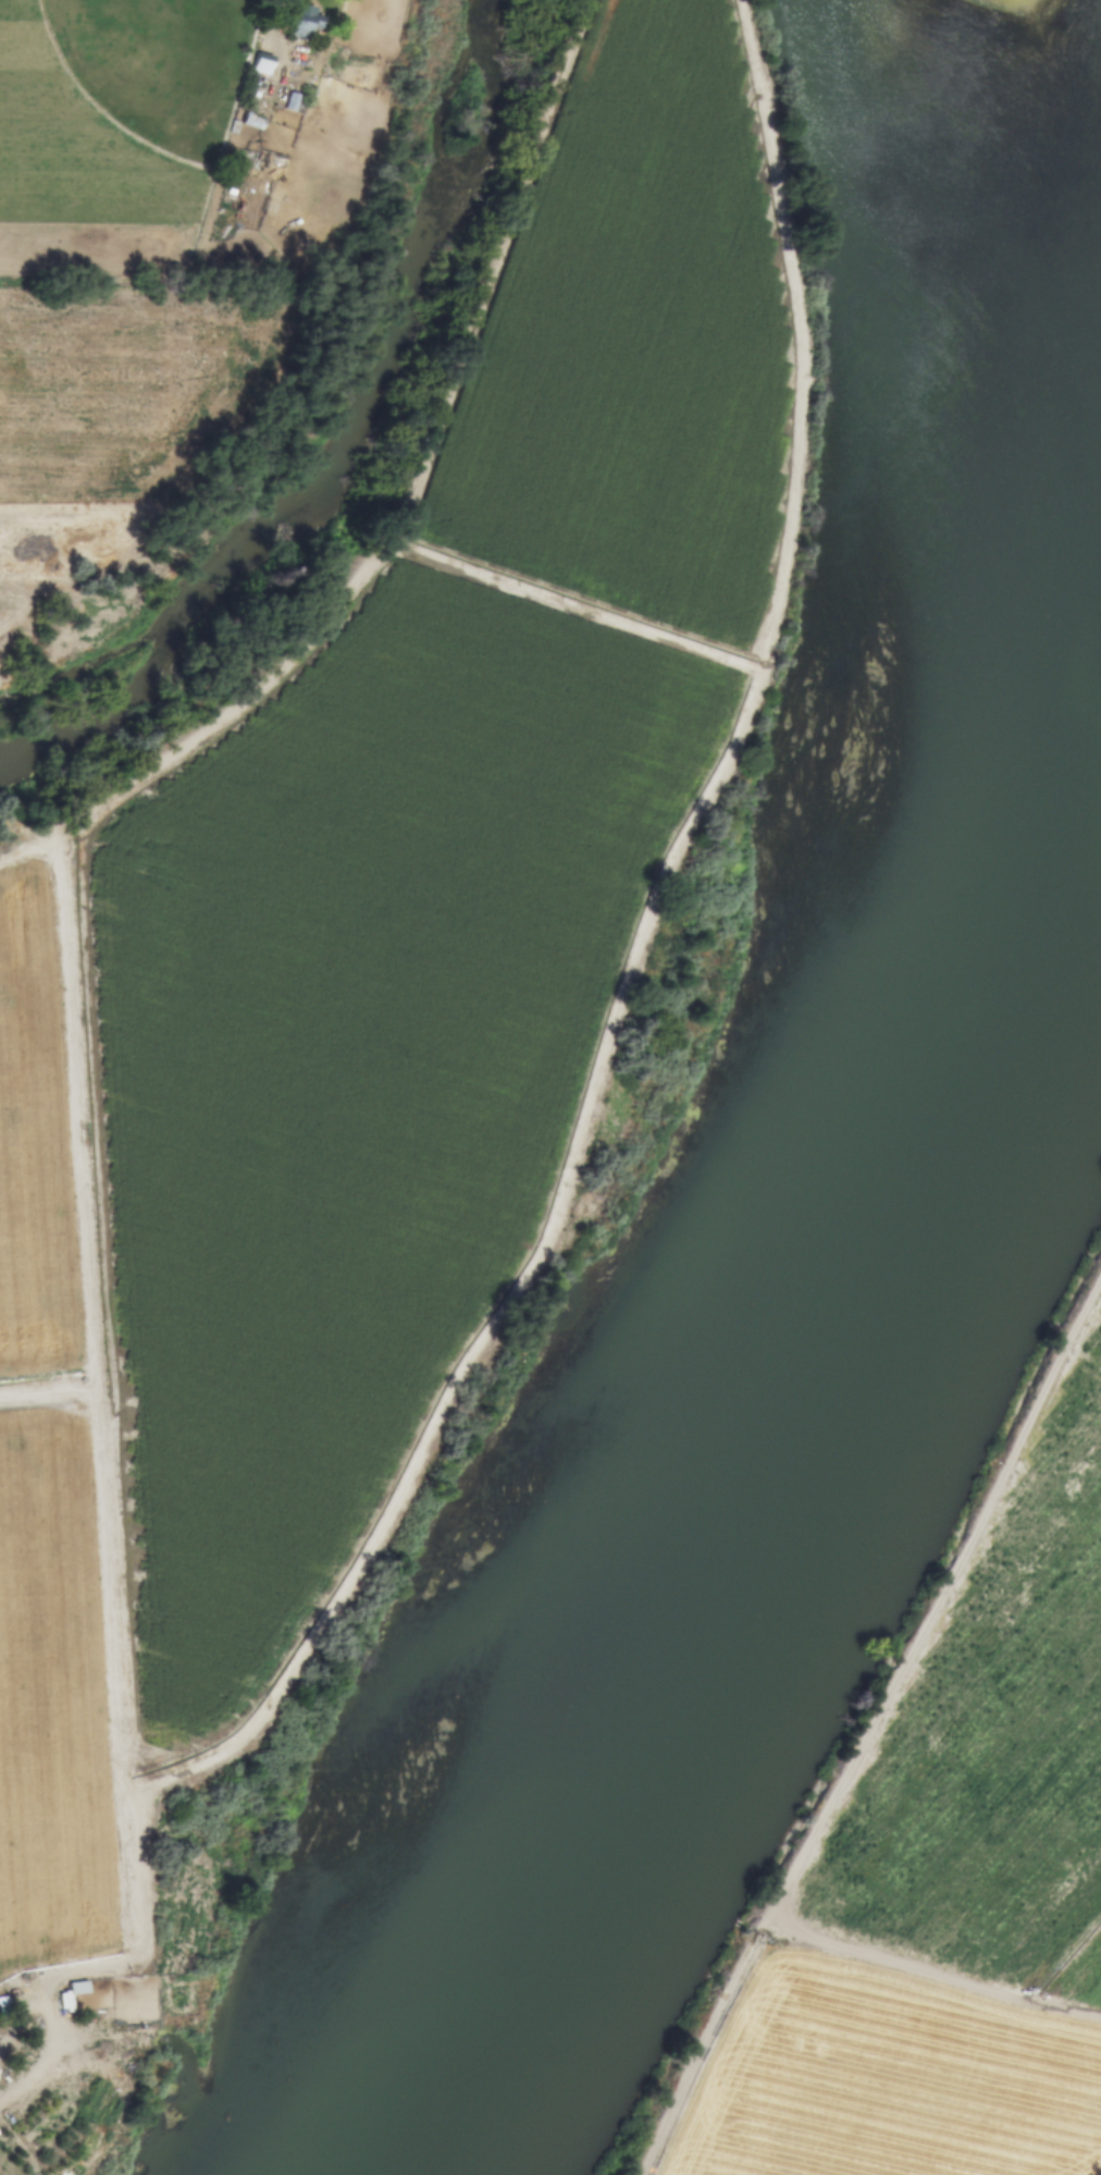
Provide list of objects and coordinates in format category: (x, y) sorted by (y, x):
building: (304, 24)
building: (261, 63)
building: (251, 123)
river: (795, 1345)
road: (106, 1499)
road: (873, 1722)
building: (125, 1988)
building: (64, 2002)

